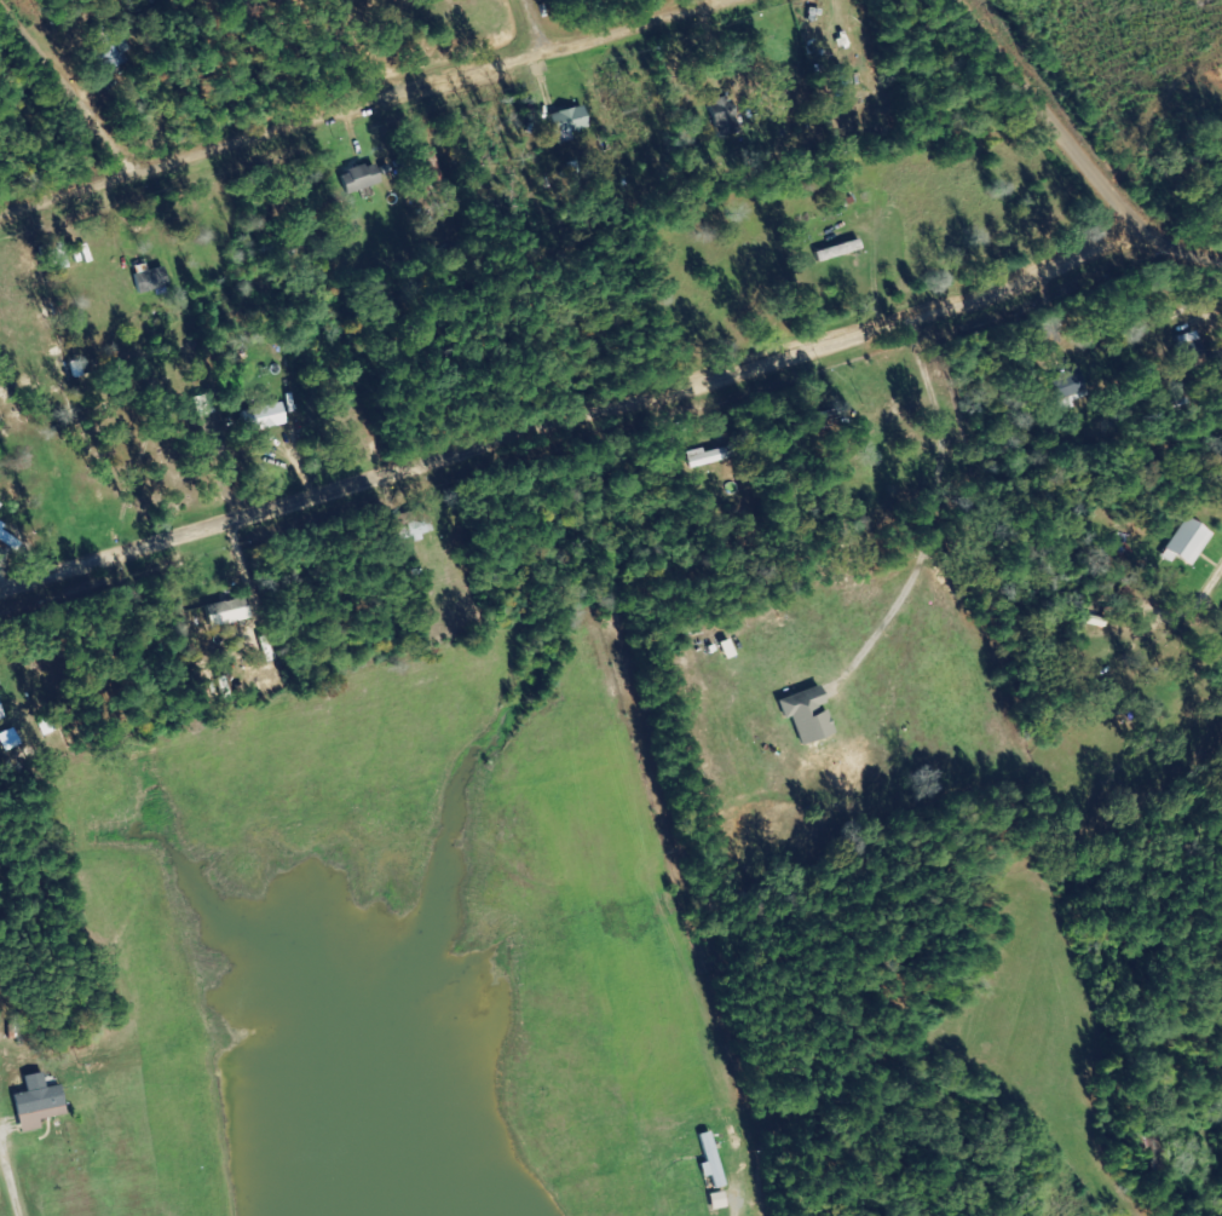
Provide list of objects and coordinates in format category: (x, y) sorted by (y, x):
building: (114, 44)
road: (126, 116)
road: (1065, 122)
building: (570, 123)
road: (505, 143)
building: (362, 179)
road: (76, 264)
road: (1184, 267)
building: (151, 281)
building: (1071, 385)
building: (265, 419)
road: (572, 438)
building: (0, 505)
building: (413, 529)
building: (1189, 542)
building: (229, 613)
building: (1, 714)
building: (809, 716)
building: (39, 1103)
building: (713, 1162)
building: (720, 1201)

